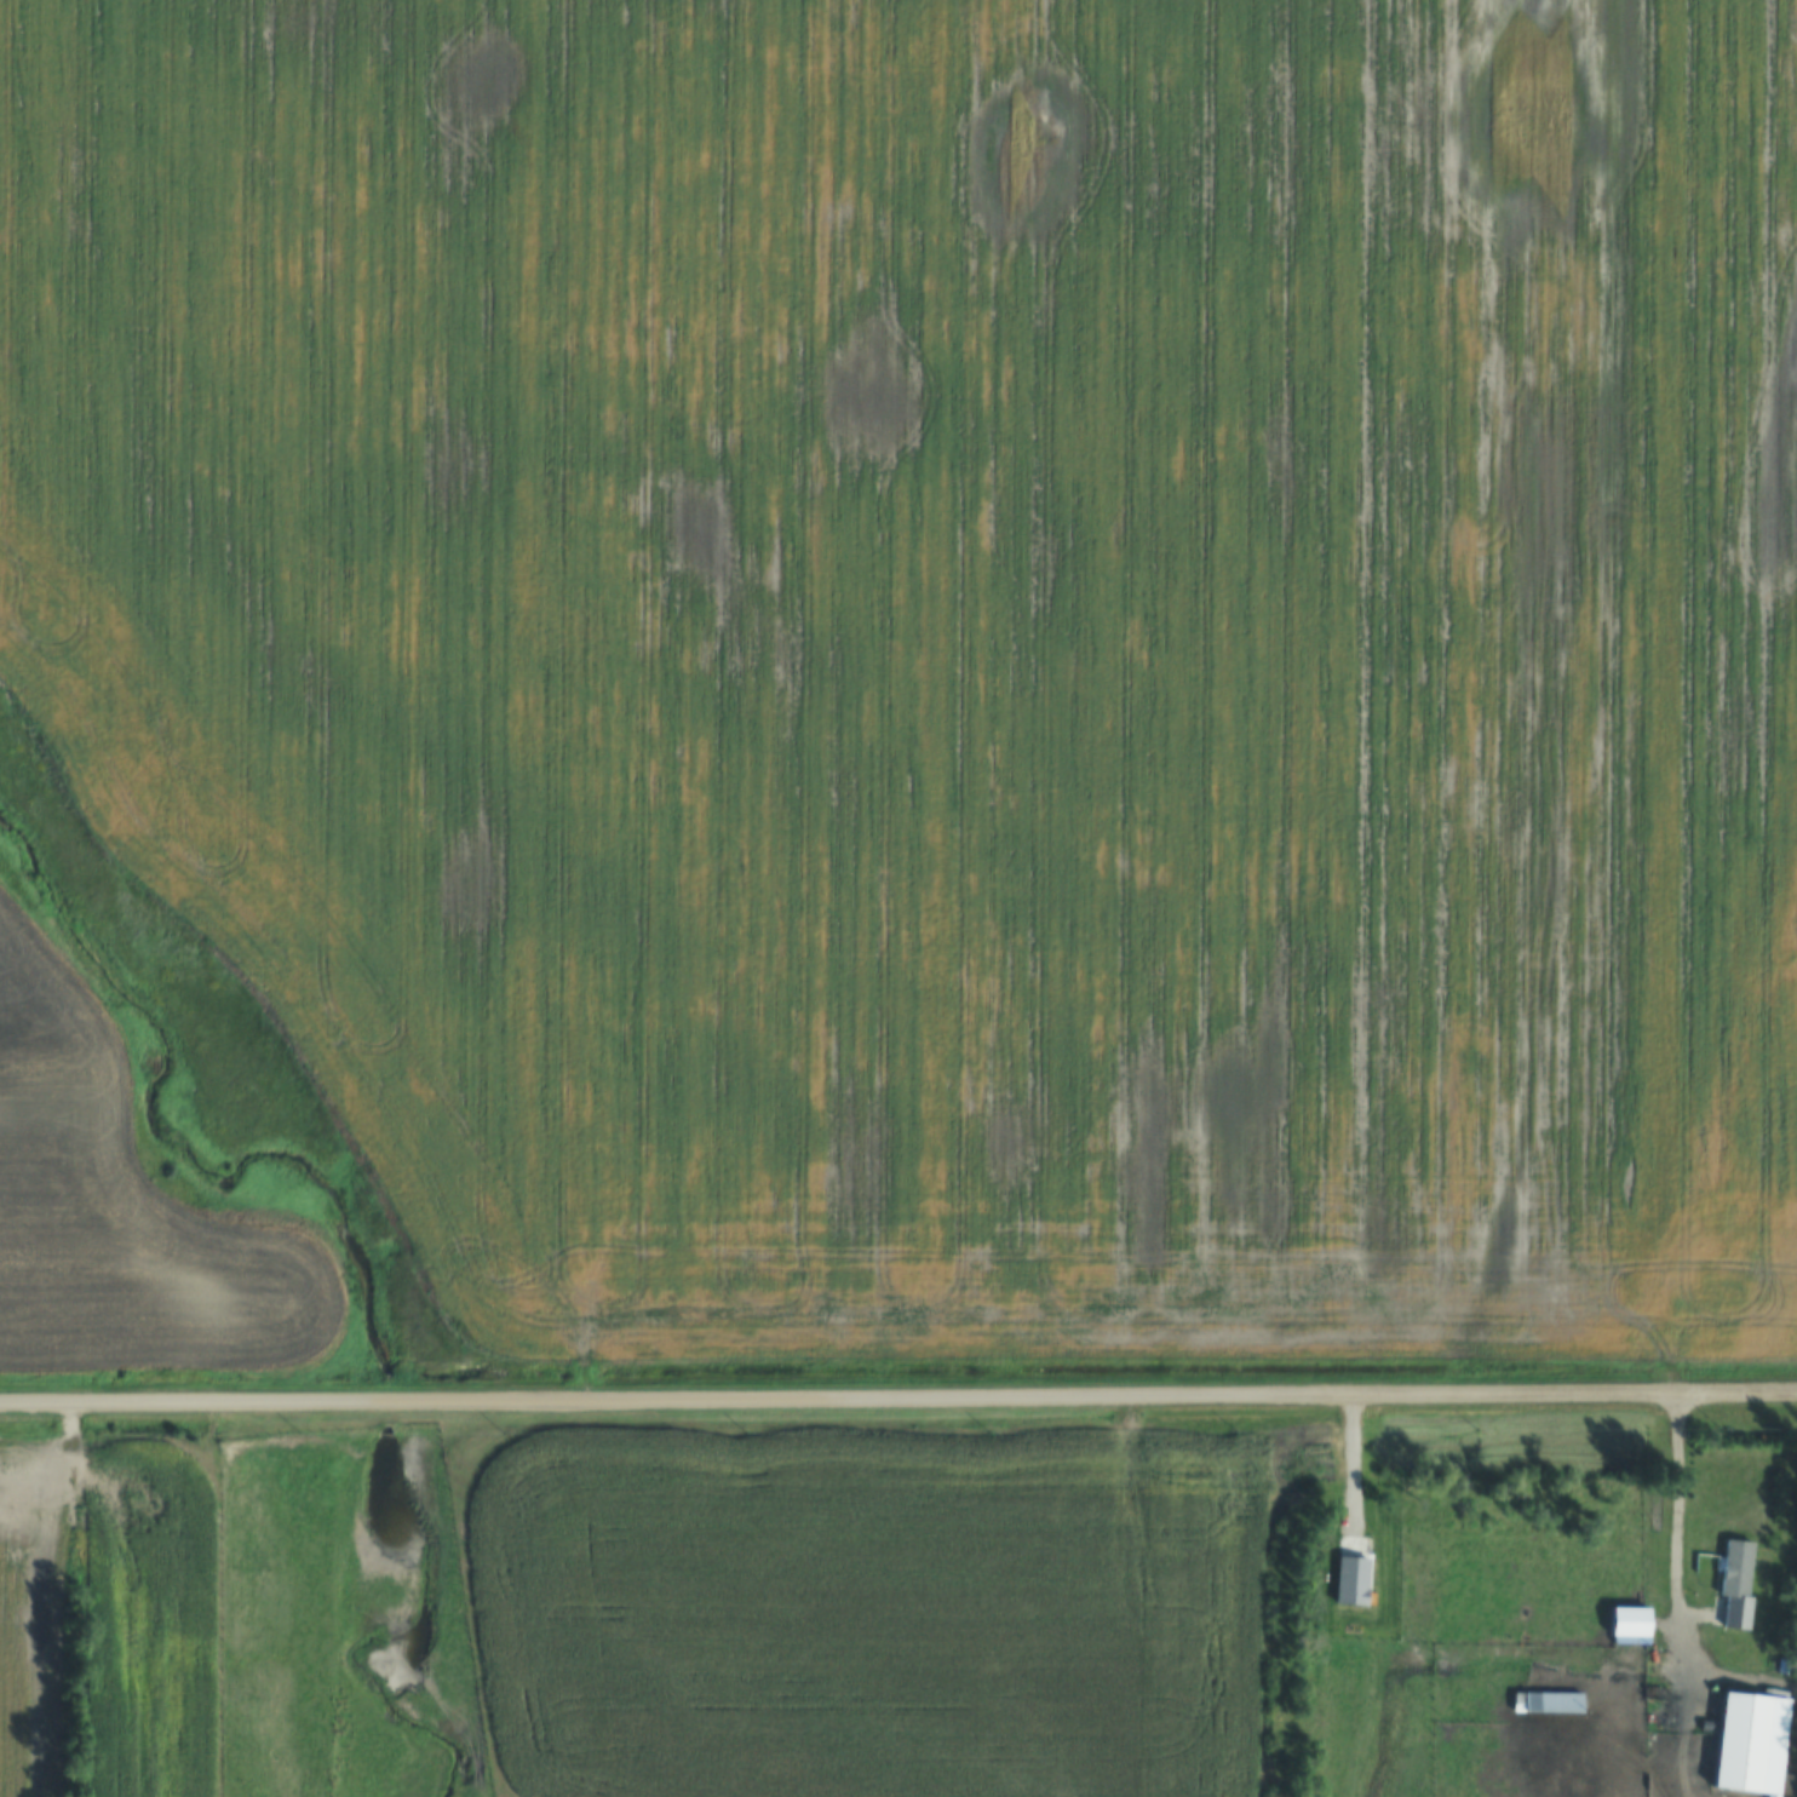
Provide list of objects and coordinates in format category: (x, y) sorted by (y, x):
road: (898, 1395)
road: (1350, 1462)
road: (1680, 1539)
building: (1734, 1583)
building: (1544, 1701)
building: (1746, 1743)

